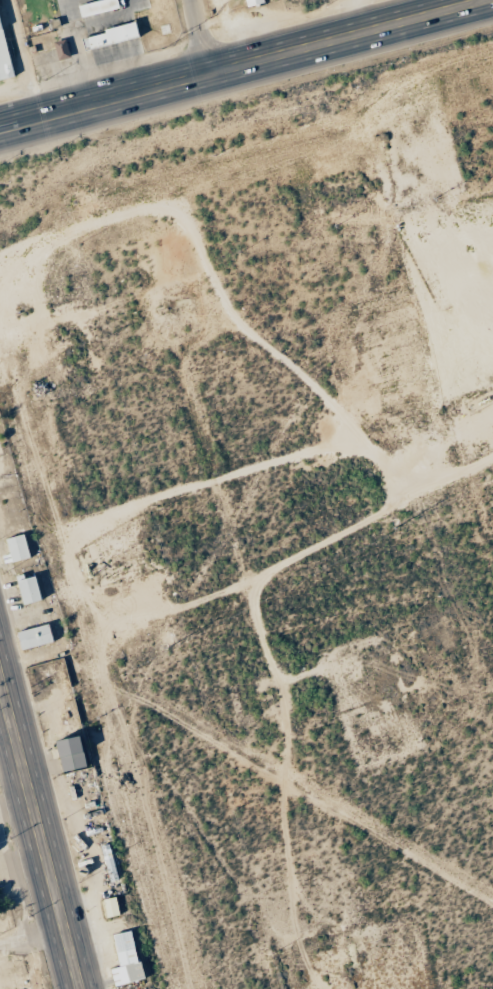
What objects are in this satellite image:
building: (252, 2)
building: (95, 7)
building: (109, 36)
road: (202, 37)
building: (59, 49)
building: (3, 62)
road: (244, 65)
power tower: (395, 526)
building: (14, 548)
building: (27, 590)
building: (33, 636)
power tower: (166, 647)
building: (65, 754)
road: (39, 835)
building: (108, 907)
building: (122, 960)

